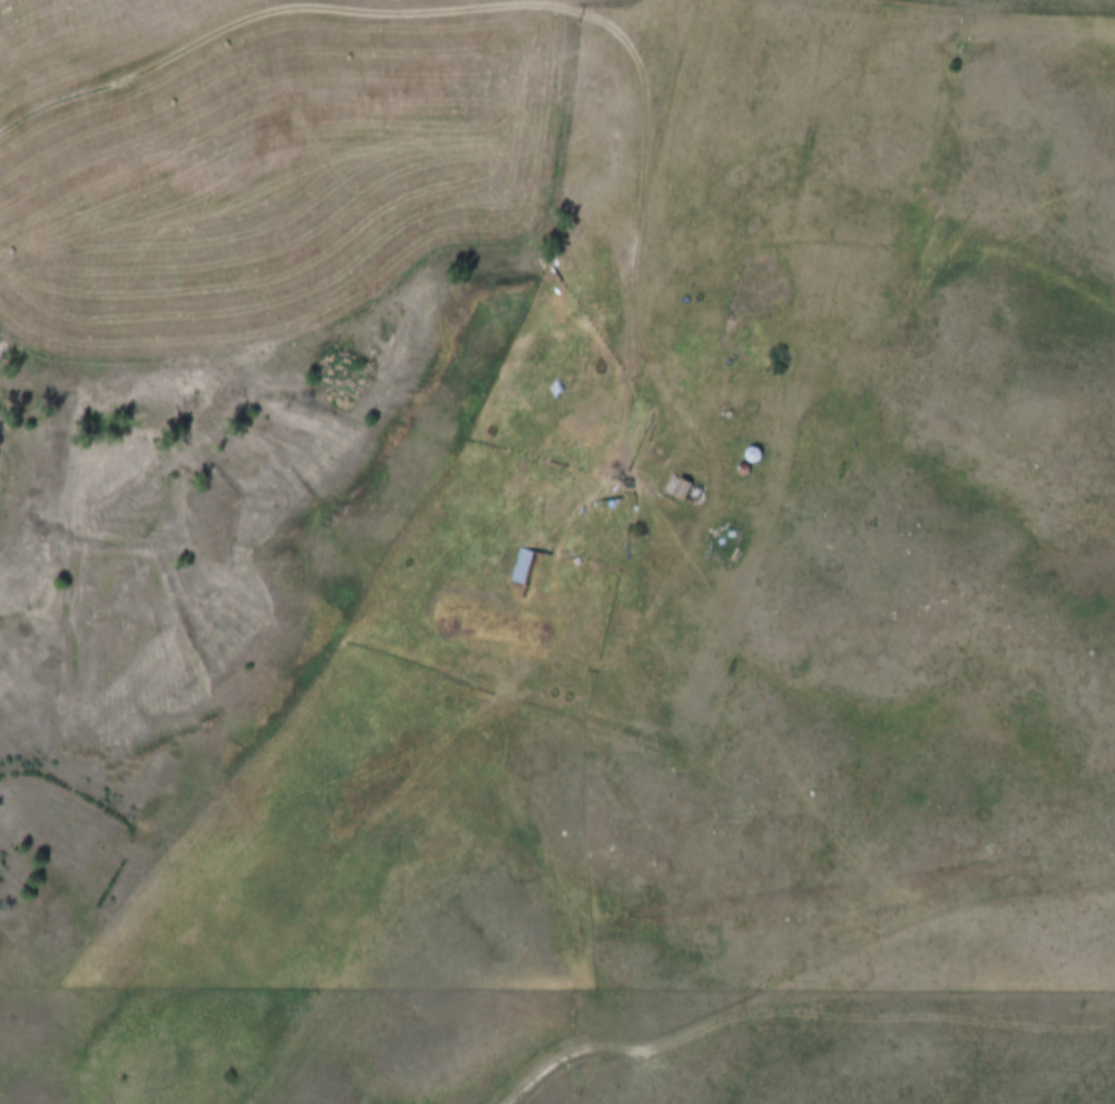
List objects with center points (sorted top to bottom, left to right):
road: (698, 6)
road: (943, 18)
road: (241, 21)
road: (675, 22)
road: (646, 196)
building: (762, 261)
building: (746, 326)
building: (525, 407)
building: (682, 489)
building: (524, 567)
road: (720, 1056)

